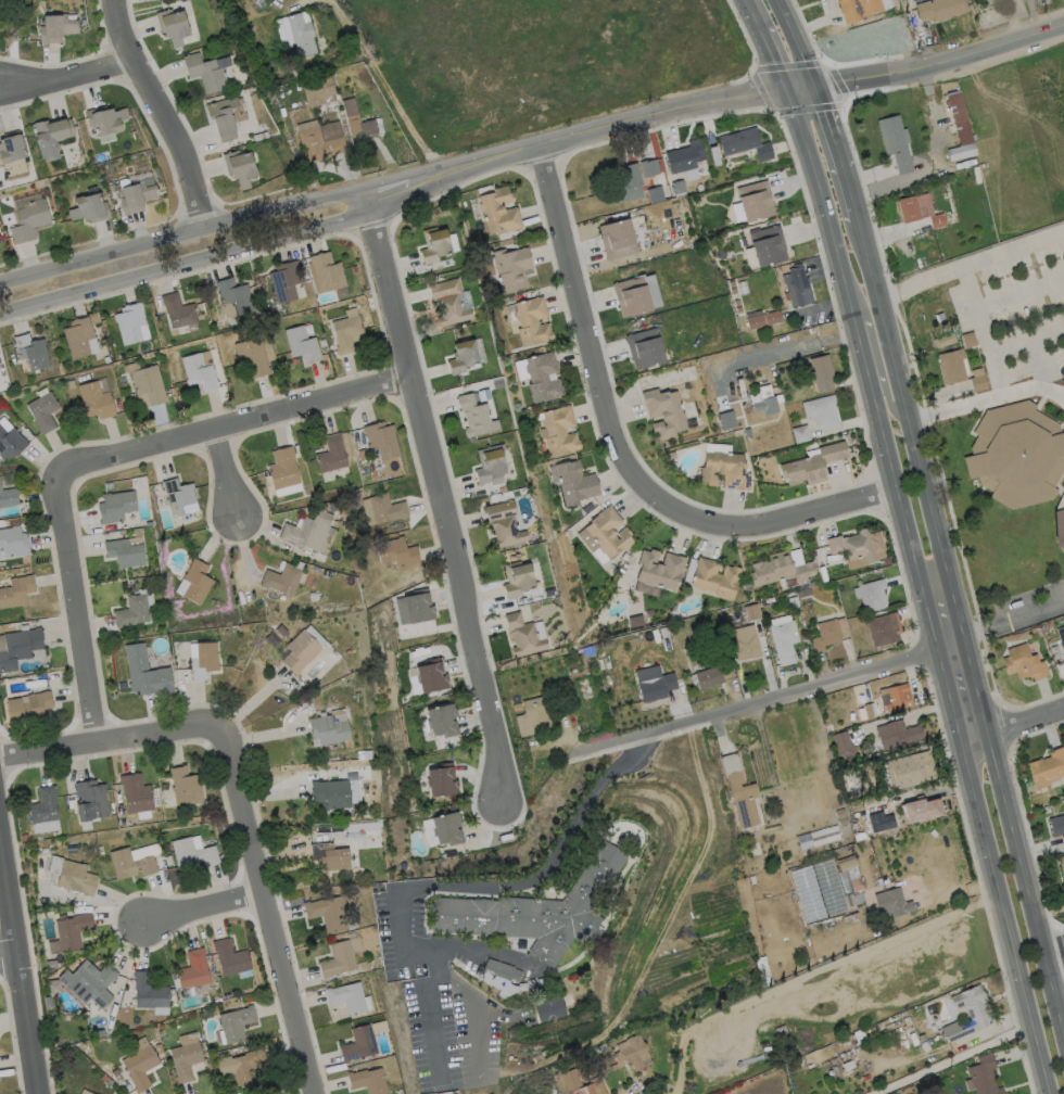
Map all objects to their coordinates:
building: (261, 1)
building: (967, 1)
building: (859, 9)
building: (940, 9)
road: (1033, 16)
building: (173, 27)
building: (56, 28)
building: (302, 35)
road: (795, 42)
road: (768, 44)
building: (205, 73)
road: (68, 74)
building: (295, 74)
traffic signals: (813, 87)
building: (318, 89)
traffic signals: (788, 91)
road: (713, 104)
road: (161, 112)
building: (129, 113)
building: (223, 117)
building: (105, 119)
building: (362, 126)
road: (828, 129)
building: (960, 129)
building: (52, 137)
building: (261, 137)
building: (320, 140)
building: (896, 142)
building: (746, 144)
building: (10, 151)
building: (103, 155)
building: (686, 156)
building: (240, 168)
building: (649, 168)
building: (628, 185)
building: (677, 188)
building: (161, 190)
building: (656, 194)
road: (848, 195)
building: (137, 196)
building: (755, 201)
building: (90, 207)
building: (909, 209)
building: (499, 212)
building: (631, 212)
building: (29, 220)
building: (938, 220)
road: (181, 231)
building: (618, 240)
building: (744, 242)
building: (434, 245)
building: (768, 245)
building: (721, 254)
road: (187, 260)
road: (970, 264)
building: (511, 268)
building: (354, 270)
building: (327, 272)
building: (286, 281)
building: (732, 283)
building: (797, 287)
building: (734, 291)
building: (235, 295)
building: (632, 296)
building: (448, 303)
building: (737, 303)
building: (739, 310)
building: (178, 311)
building: (1014, 314)
building: (940, 317)
building: (773, 318)
building: (755, 320)
building: (532, 321)
building: (130, 323)
building: (940, 327)
building: (211, 332)
building: (347, 334)
building: (78, 338)
building: (968, 340)
building: (945, 341)
building: (302, 345)
building: (645, 348)
road: (781, 352)
building: (31, 354)
road: (860, 355)
building: (122, 356)
building: (253, 357)
building: (463, 357)
building: (103, 361)
road: (877, 362)
building: (952, 367)
building: (52, 371)
building: (199, 372)
building: (689, 373)
building: (822, 373)
building: (543, 378)
building: (147, 384)
building: (497, 384)
building: (978, 384)
building: (72, 385)
road: (986, 399)
building: (96, 400)
building: (768, 405)
building: (822, 411)
building: (43, 412)
building: (664, 412)
building: (476, 417)
building: (725, 419)
road: (235, 425)
building: (560, 432)
building: (721, 432)
building: (800, 434)
building: (382, 440)
building: (11, 443)
building: (850, 443)
road: (621, 446)
building: (332, 455)
building: (1017, 455)
building: (362, 456)
building: (671, 456)
building: (0, 461)
building: (491, 466)
building: (812, 466)
building: (283, 469)
building: (725, 470)
road: (229, 475)
building: (575, 483)
road: (438, 496)
building: (8, 497)
building: (180, 497)
building: (115, 507)
building: (334, 507)
building: (387, 509)
building: (587, 509)
building: (186, 518)
building: (13, 522)
building: (1060, 522)
building: (149, 524)
building: (504, 525)
building: (308, 531)
building: (606, 534)
building: (13, 542)
building: (857, 546)
building: (397, 552)
building: (125, 554)
building: (625, 556)
building: (888, 561)
building: (623, 569)
building: (660, 570)
building: (781, 570)
building: (823, 574)
building: (875, 575)
building: (715, 578)
building: (282, 580)
building: (517, 580)
building: (130, 582)
building: (198, 582)
building: (746, 587)
building: (16, 593)
building: (805, 593)
building: (315, 596)
building: (873, 596)
building: (793, 601)
road: (78, 607)
building: (419, 607)
building: (132, 612)
building: (650, 612)
building: (752, 612)
road: (1014, 615)
building: (636, 622)
building: (25, 627)
building: (243, 627)
building: (1047, 627)
building: (17, 628)
road: (963, 628)
building: (884, 629)
building: (281, 632)
building: (826, 635)
building: (1063, 635)
building: (523, 636)
building: (785, 641)
building: (670, 644)
building: (745, 644)
building: (20, 648)
building: (301, 652)
building: (1063, 653)
building: (204, 661)
building: (558, 663)
building: (1024, 664)
building: (547, 665)
building: (145, 673)
building: (432, 676)
building: (709, 678)
road: (946, 683)
building: (123, 686)
building: (656, 687)
building: (899, 699)
road: (762, 705)
building: (29, 709)
building: (535, 711)
building: (869, 711)
building: (862, 717)
building: (443, 721)
road: (1013, 727)
building: (329, 730)
building: (898, 736)
road: (109, 740)
building: (845, 746)
building: (363, 755)
building: (1047, 768)
building: (910, 771)
building: (442, 780)
building: (187, 785)
building: (1027, 786)
building: (739, 791)
building: (136, 794)
building: (331, 794)
building: (90, 801)
building: (45, 806)
building: (864, 818)
building: (882, 824)
building: (1056, 826)
building: (363, 827)
building: (448, 829)
building: (25, 838)
building: (810, 840)
building: (799, 842)
building: (46, 851)
building: (192, 854)
building: (330, 857)
building: (130, 864)
building: (847, 864)
building: (1062, 869)
building: (76, 878)
road: (423, 886)
building: (857, 887)
building: (847, 901)
building: (896, 906)
road: (207, 908)
road: (269, 911)
building: (534, 912)
building: (328, 914)
building: (837, 914)
road: (1005, 918)
building: (73, 932)
building: (519, 944)
road: (1052, 945)
road: (476, 950)
road: (1052, 954)
road: (9, 957)
building: (230, 958)
building: (339, 959)
building: (364, 966)
road: (20, 967)
building: (193, 971)
road: (812, 971)
building: (498, 972)
building: (89, 983)
building: (525, 985)
building: (149, 992)
building: (227, 996)
building: (347, 997)
building: (48, 1003)
building: (548, 1009)
building: (968, 1014)
building: (912, 1015)
building: (908, 1021)
building: (237, 1023)
road: (473, 1026)
building: (874, 1028)
building: (100, 1034)
building: (922, 1038)
building: (834, 1044)
building: (359, 1045)
building: (601, 1047)
building: (631, 1054)
road: (950, 1058)
building: (186, 1061)
building: (809, 1064)
building: (847, 1064)
building: (241, 1066)
building: (140, 1067)
building: (837, 1069)
building: (116, 1073)
building: (983, 1077)
building: (104, 1079)
building: (118, 1080)
building: (368, 1081)
building: (580, 1083)
building: (85, 1092)

